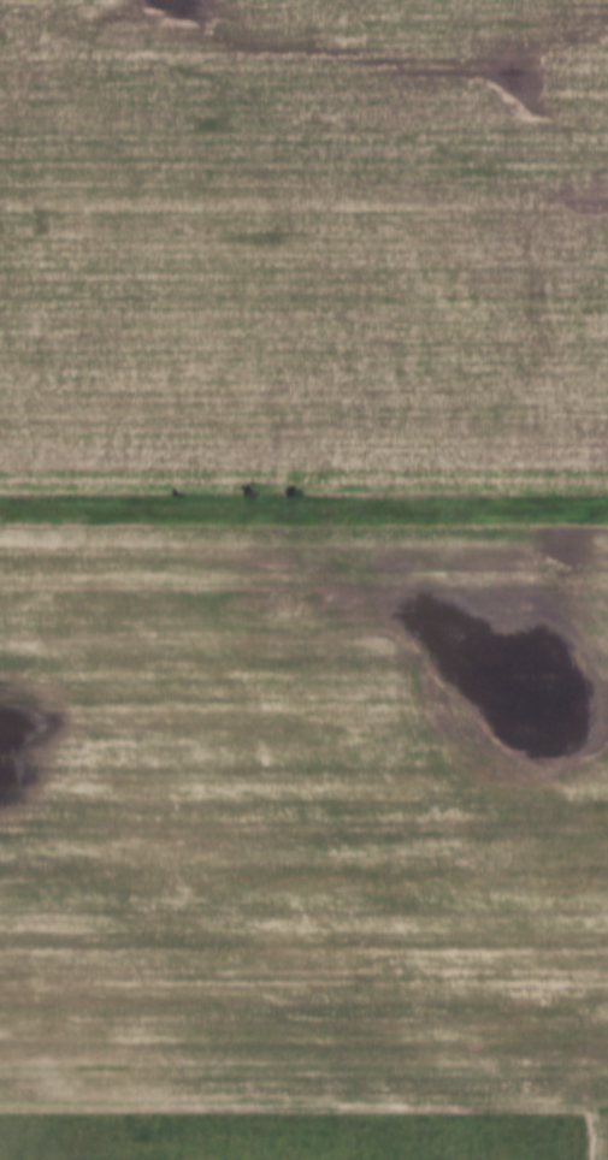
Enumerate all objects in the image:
road: (303, 510)

